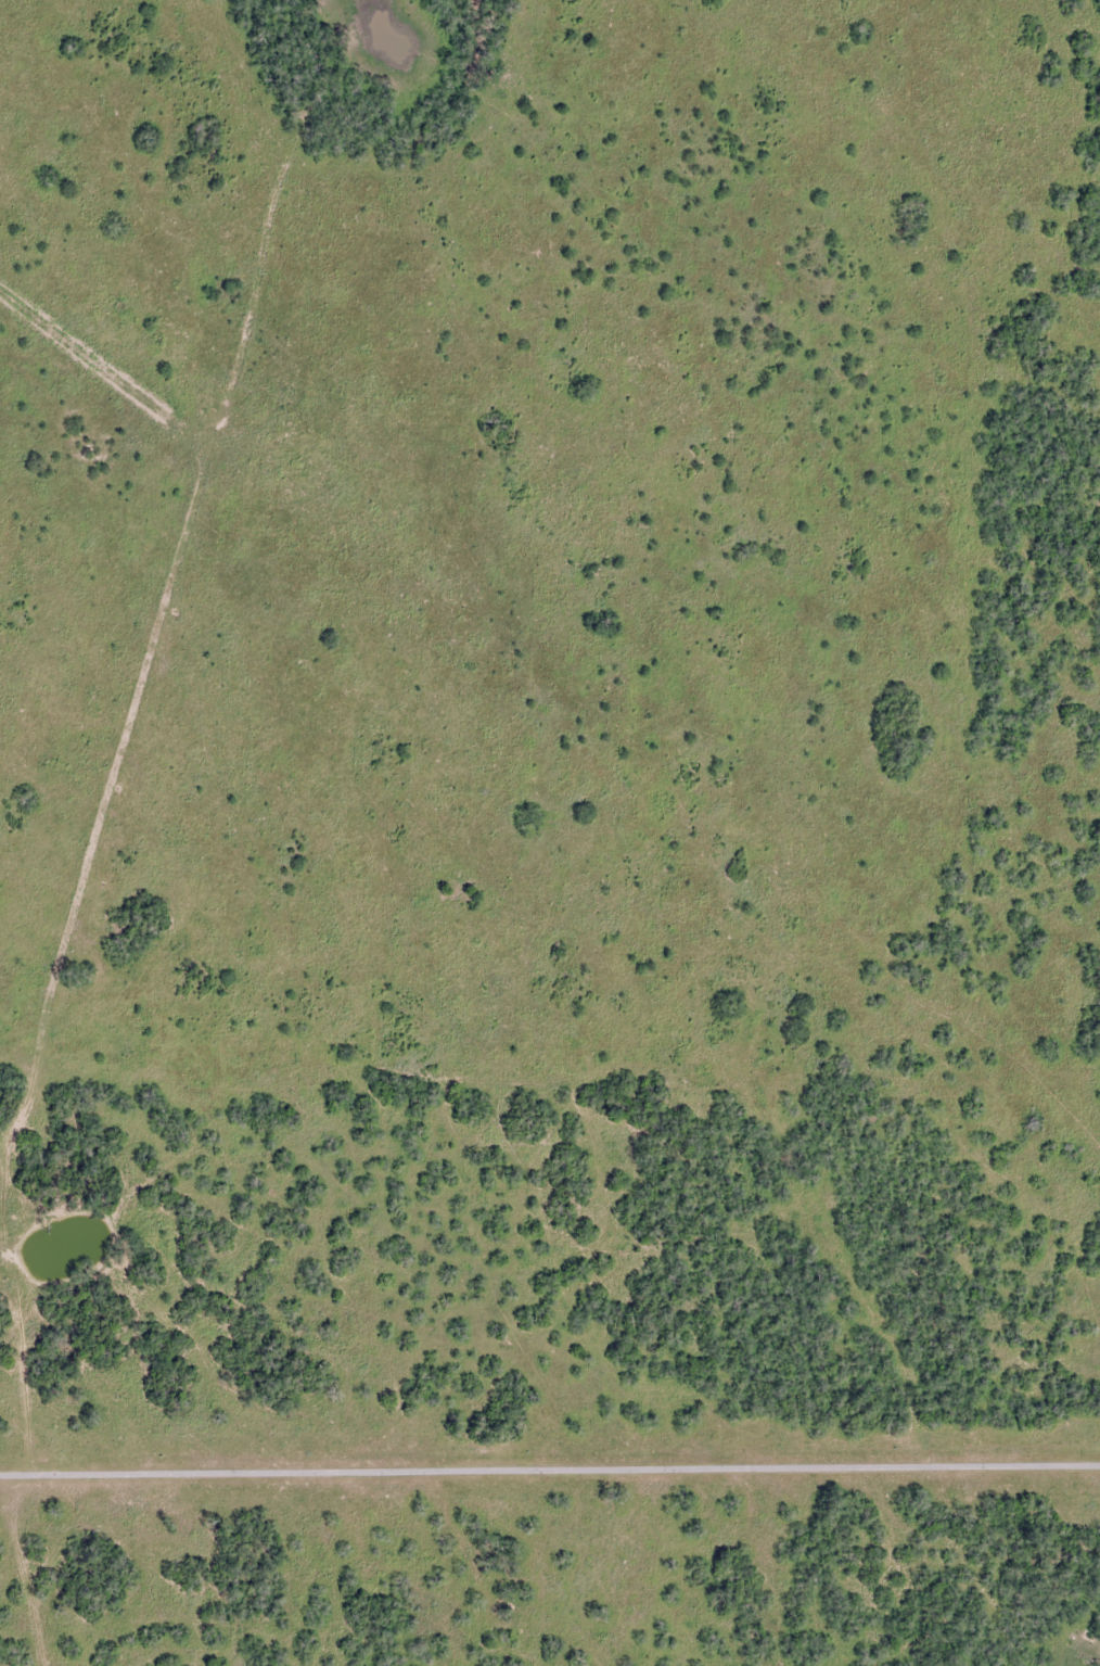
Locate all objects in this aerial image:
road: (550, 1427)

